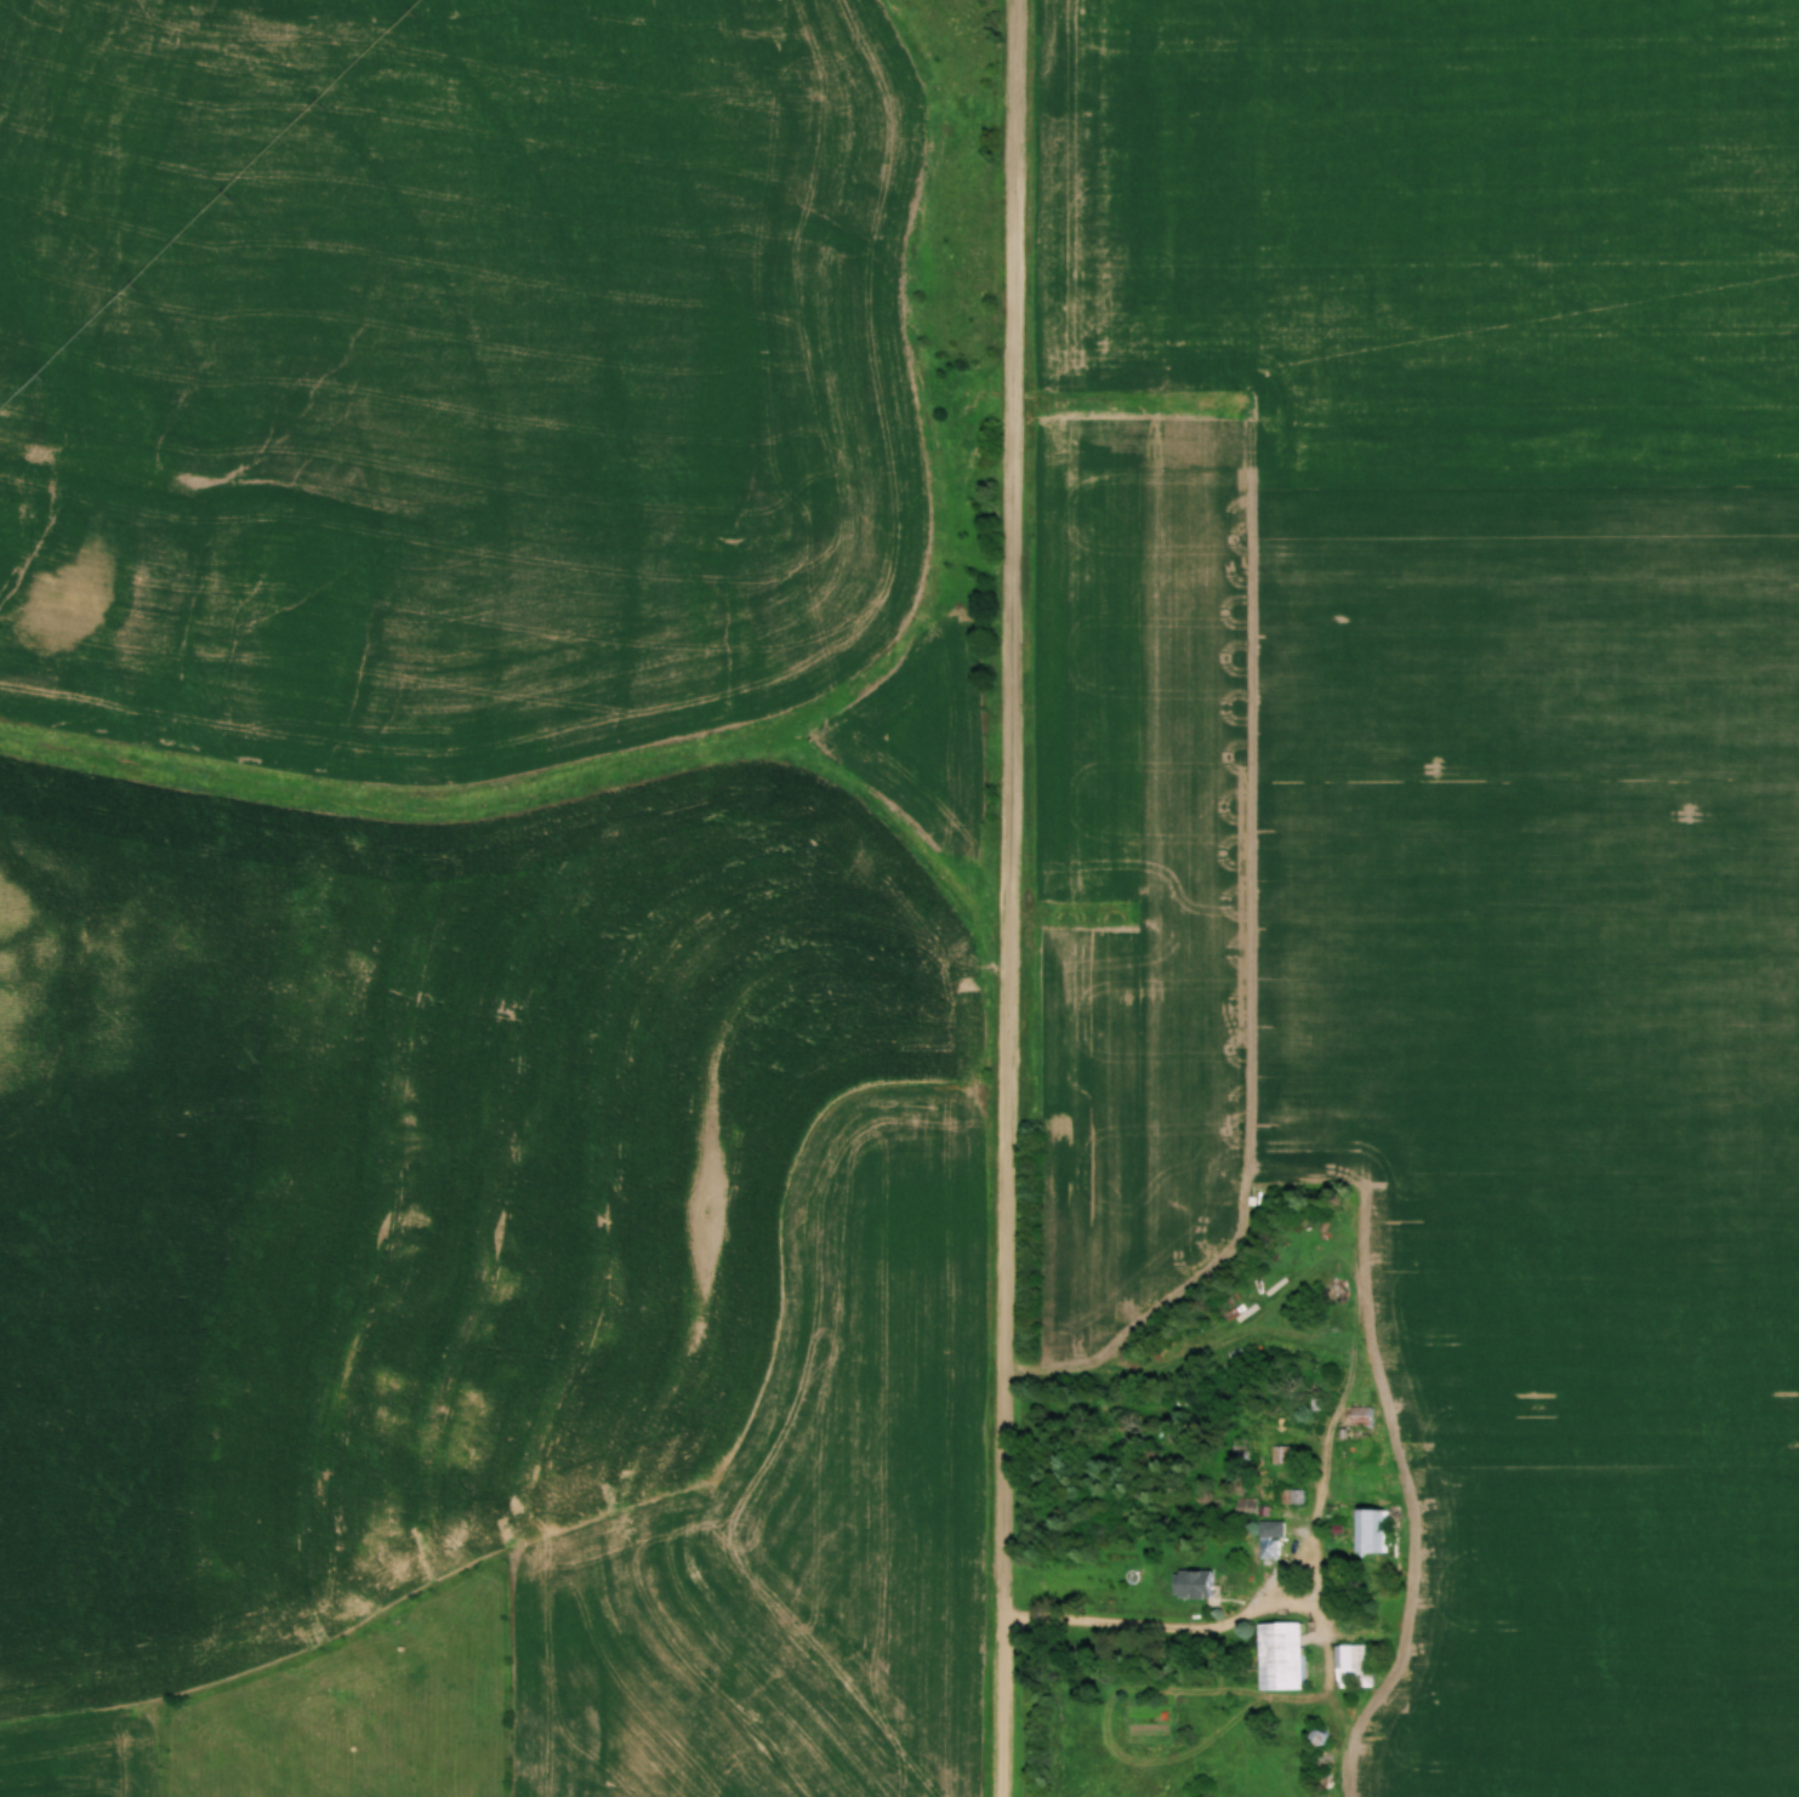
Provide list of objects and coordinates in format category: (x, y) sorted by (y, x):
road: (1009, 898)
building: (1361, 1415)
building: (1431, 1443)
building: (1241, 1448)
building: (1280, 1454)
building: (1291, 1495)
building: (1372, 1531)
building: (1269, 1542)
building: (1195, 1584)
road: (1262, 1605)
building: (1282, 1656)
building: (1353, 1666)

